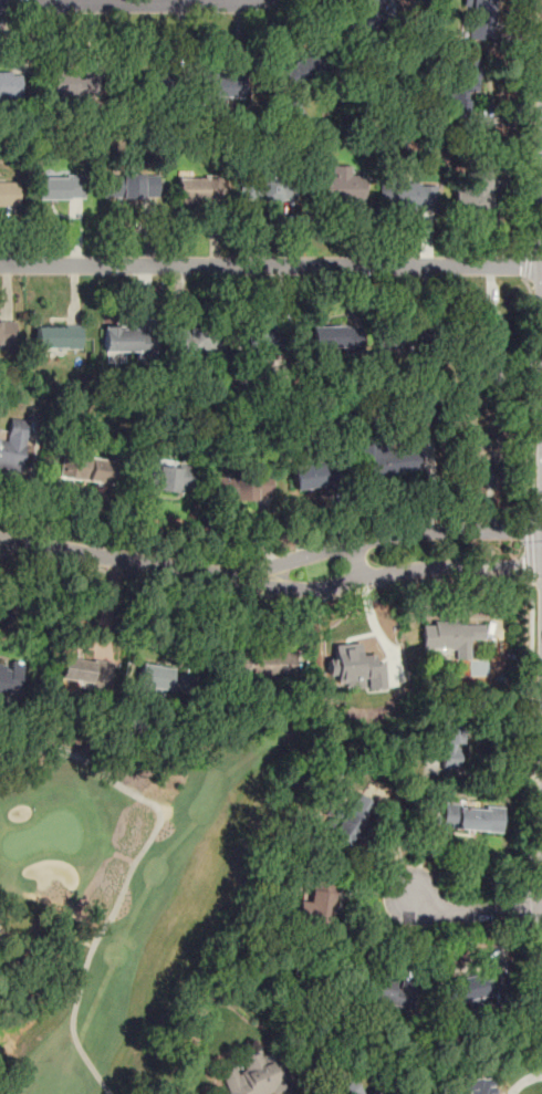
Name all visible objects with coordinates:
road: (127, 4)
building: (362, 17)
building: (476, 19)
building: (303, 70)
building: (70, 83)
building: (148, 83)
building: (463, 84)
building: (10, 86)
building: (217, 88)
road: (531, 126)
building: (129, 186)
building: (196, 187)
building: (59, 188)
building: (340, 188)
building: (270, 189)
building: (473, 192)
building: (9, 195)
building: (407, 196)
road: (271, 265)
road: (528, 265)
building: (7, 333)
building: (404, 336)
building: (58, 337)
building: (334, 337)
building: (194, 340)
building: (127, 341)
building: (265, 341)
building: (486, 348)
road: (532, 400)
building: (12, 446)
building: (475, 449)
building: (389, 459)
building: (86, 468)
building: (314, 475)
building: (170, 479)
building: (242, 488)
road: (538, 511)
road: (390, 535)
road: (530, 549)
road: (122, 559)
road: (356, 562)
road: (392, 573)
road: (536, 583)
road: (264, 595)
building: (452, 637)
building: (264, 660)
building: (355, 669)
building: (84, 670)
building: (12, 676)
building: (160, 678)
road: (532, 739)
building: (449, 742)
road: (488, 774)
building: (472, 817)
building: (350, 819)
road: (127, 872)
park: (126, 895)
building: (314, 907)
road: (528, 909)
road: (476, 910)
road: (539, 934)
building: (472, 989)
building: (392, 992)
building: (252, 1075)
building: (476, 1087)
building: (346, 1090)

